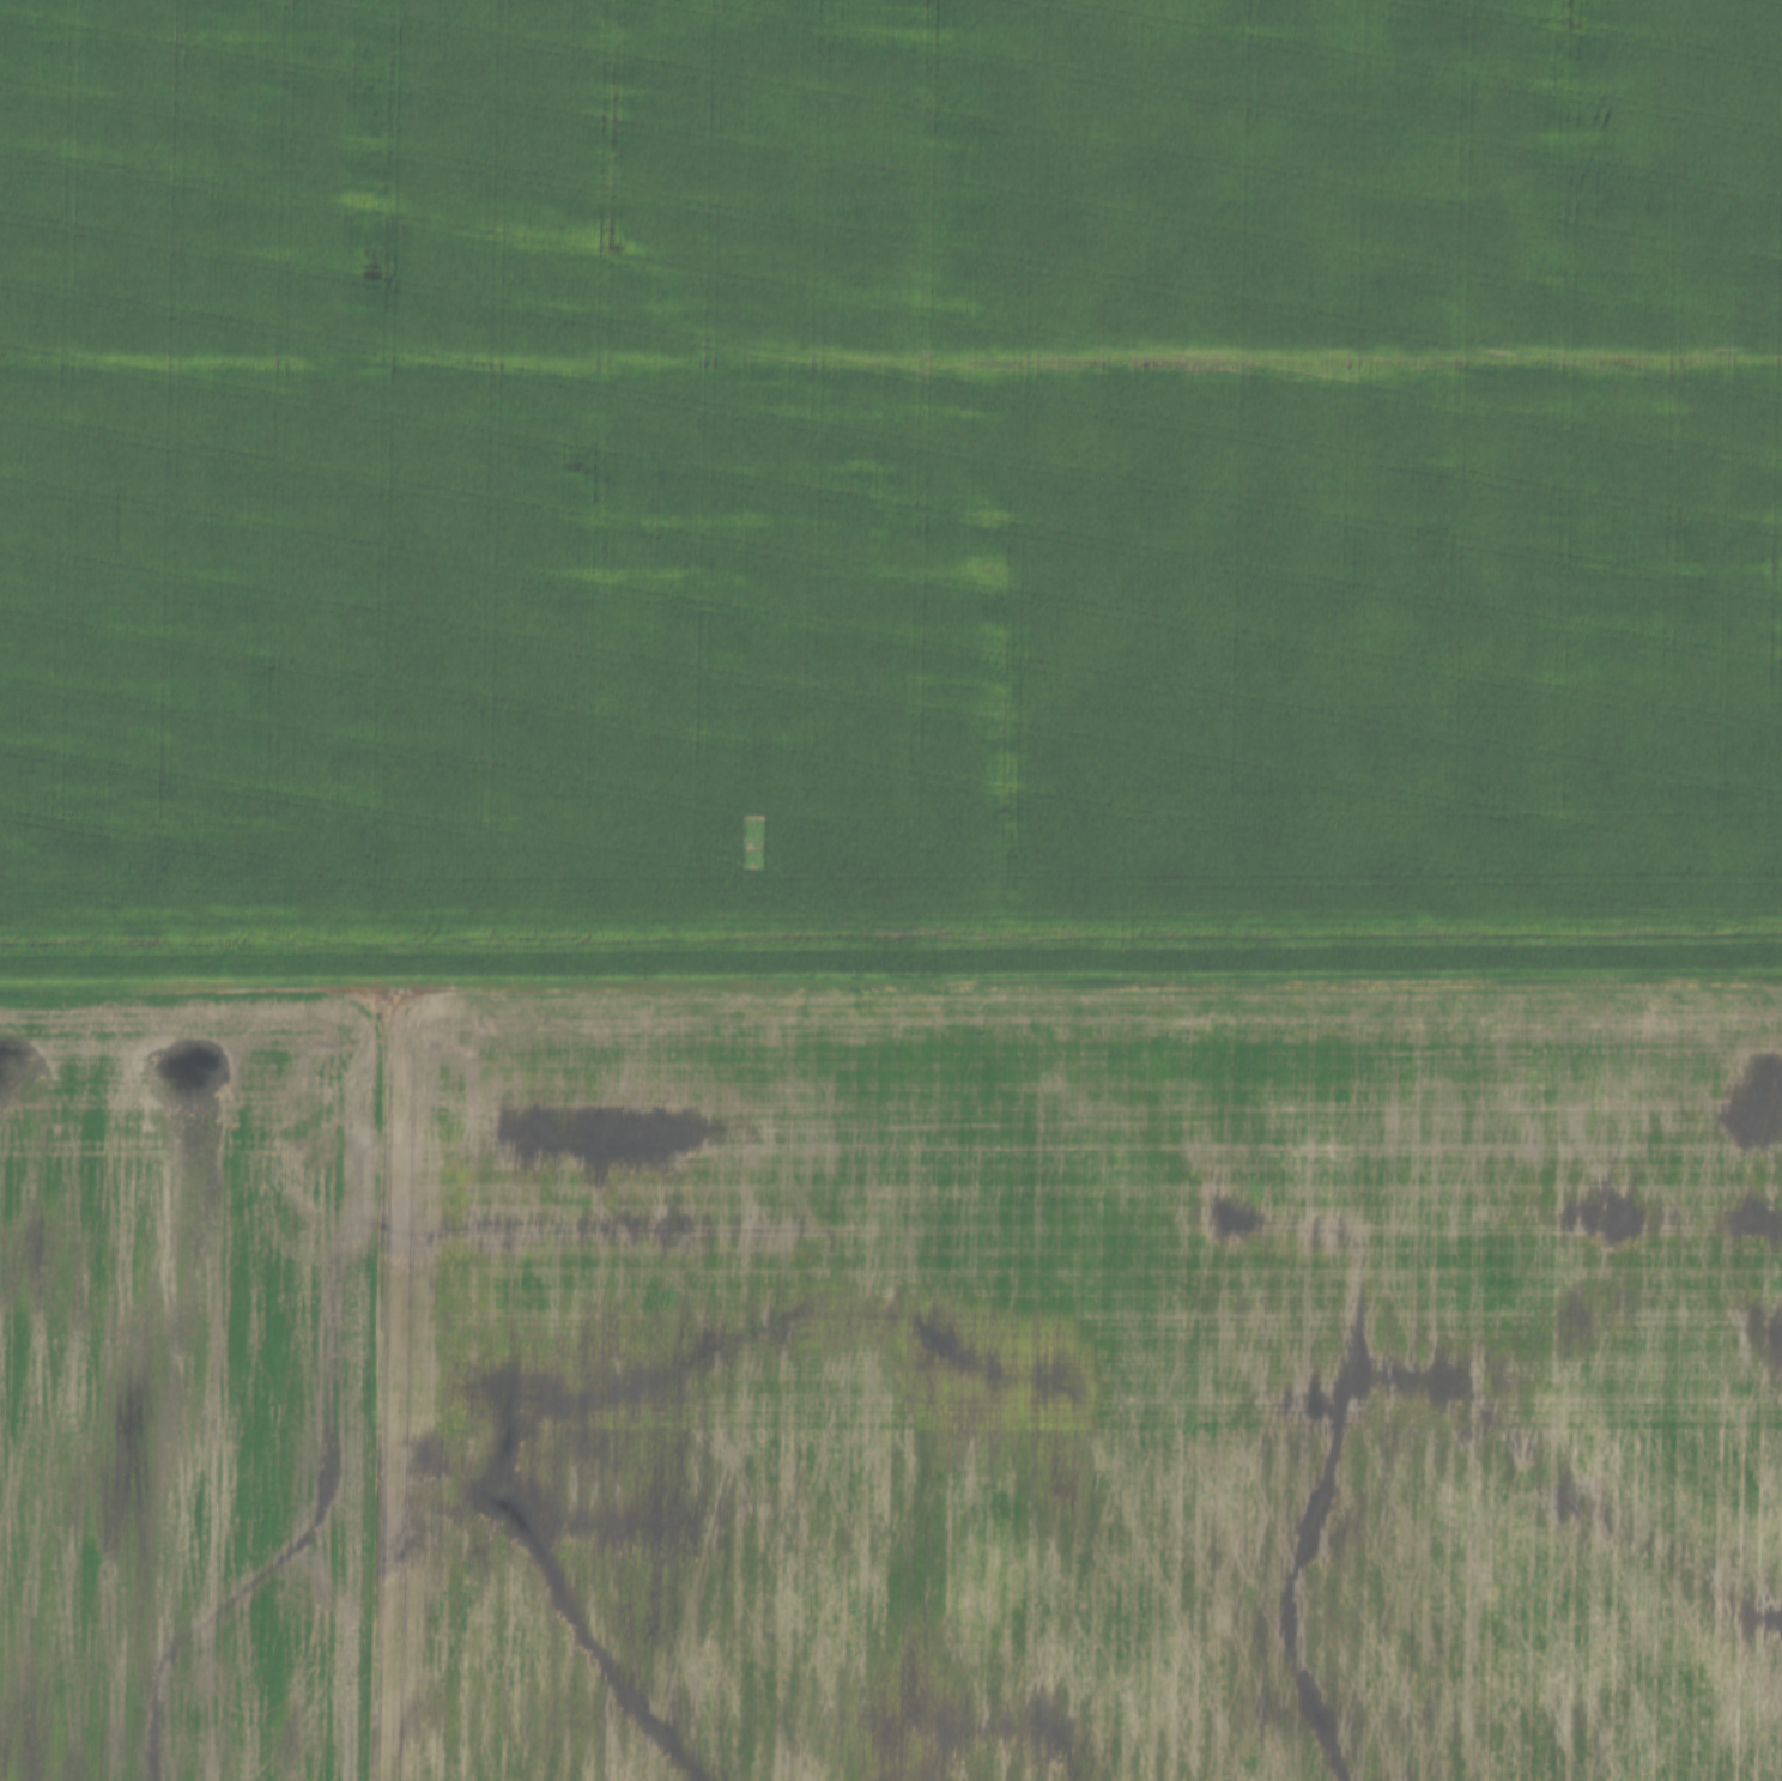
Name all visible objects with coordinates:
crop: (889, 492)
road: (891, 993)
crop: (1083, 1387)
crop: (190, 1388)

